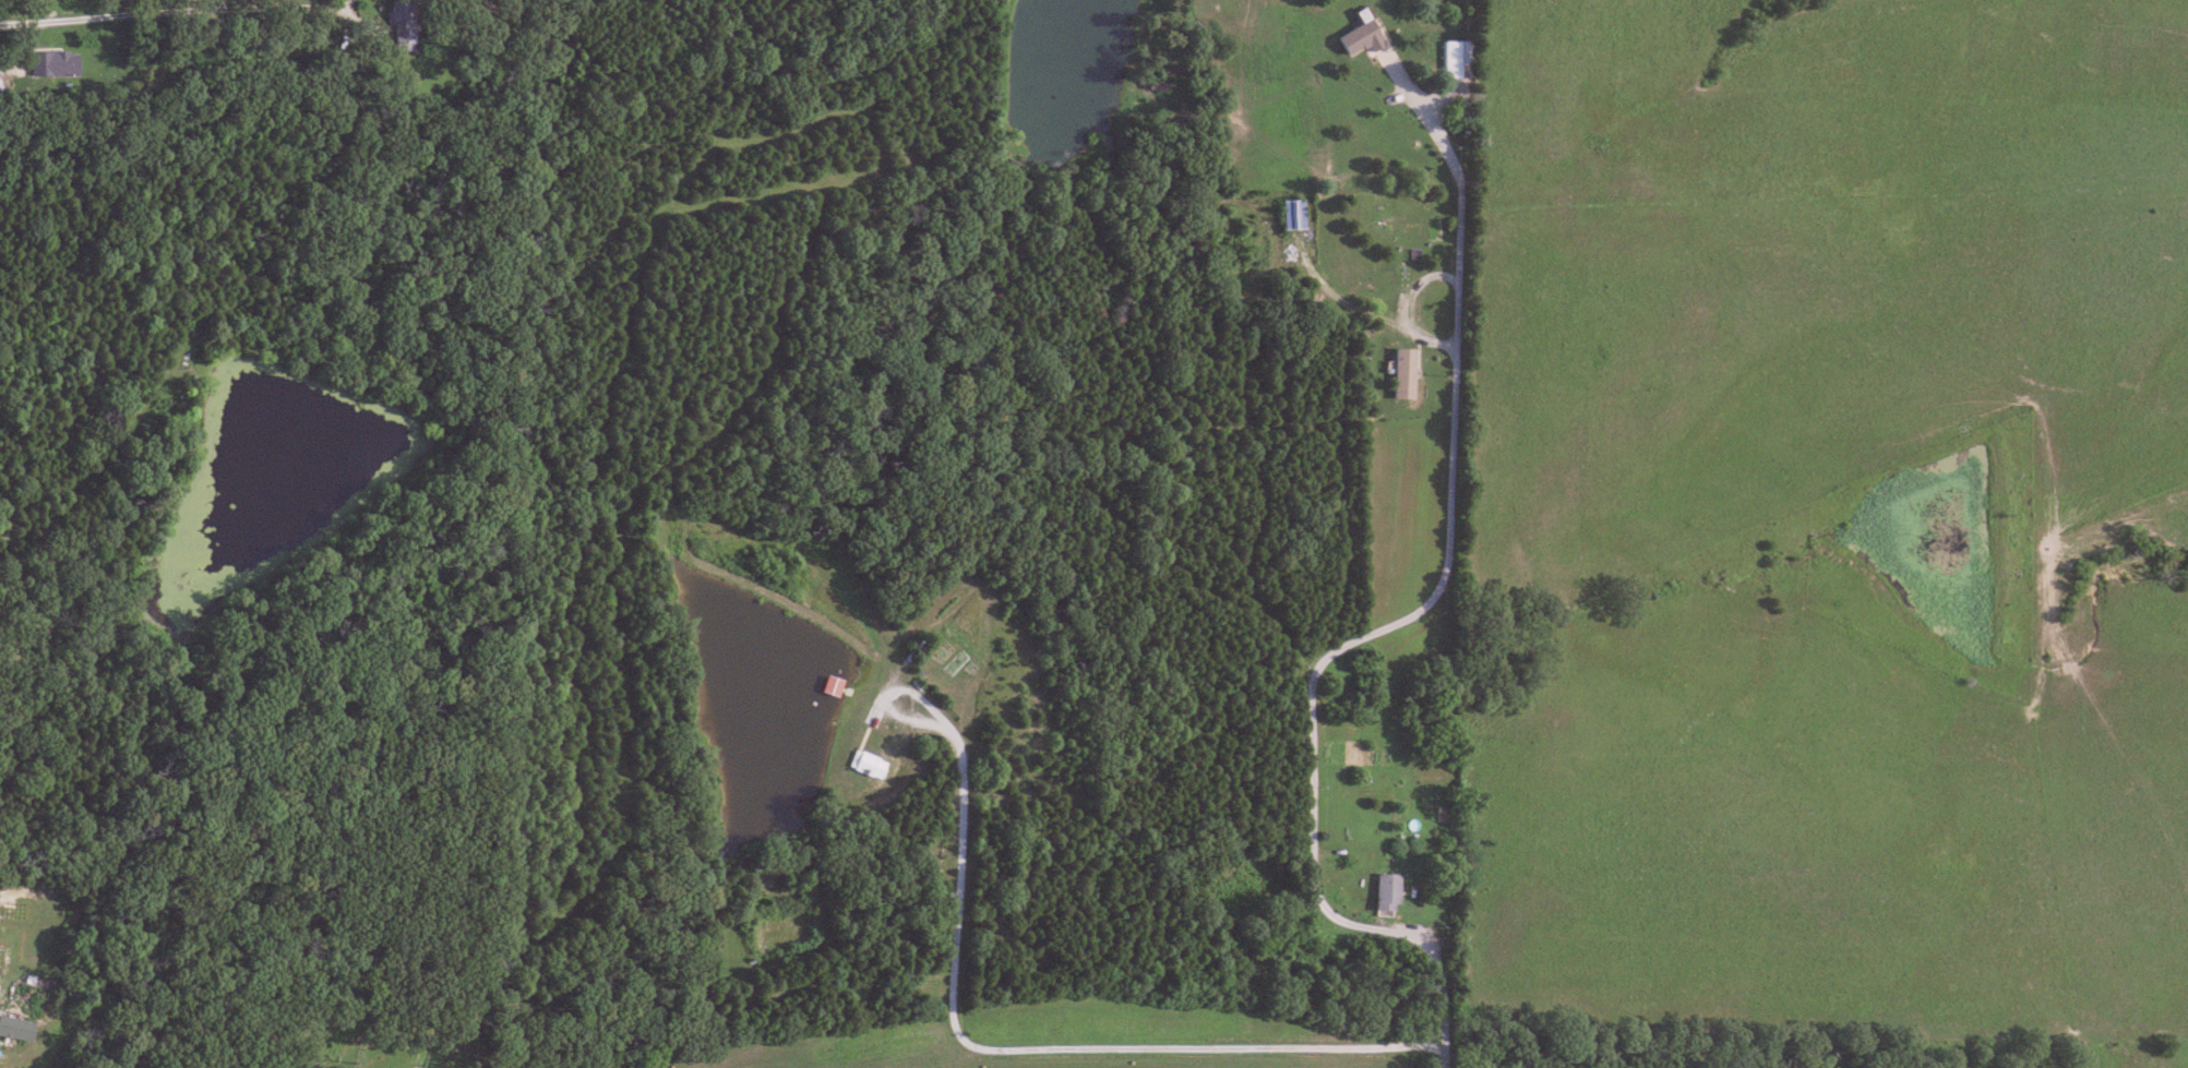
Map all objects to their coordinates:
building: (398, 25)
road: (223, 29)
building: (1359, 38)
building: (1450, 59)
building: (53, 63)
building: (1402, 373)
road: (1400, 622)
building: (828, 685)
building: (865, 765)
building: (1384, 895)
building: (15, 1028)
road: (1024, 1049)

